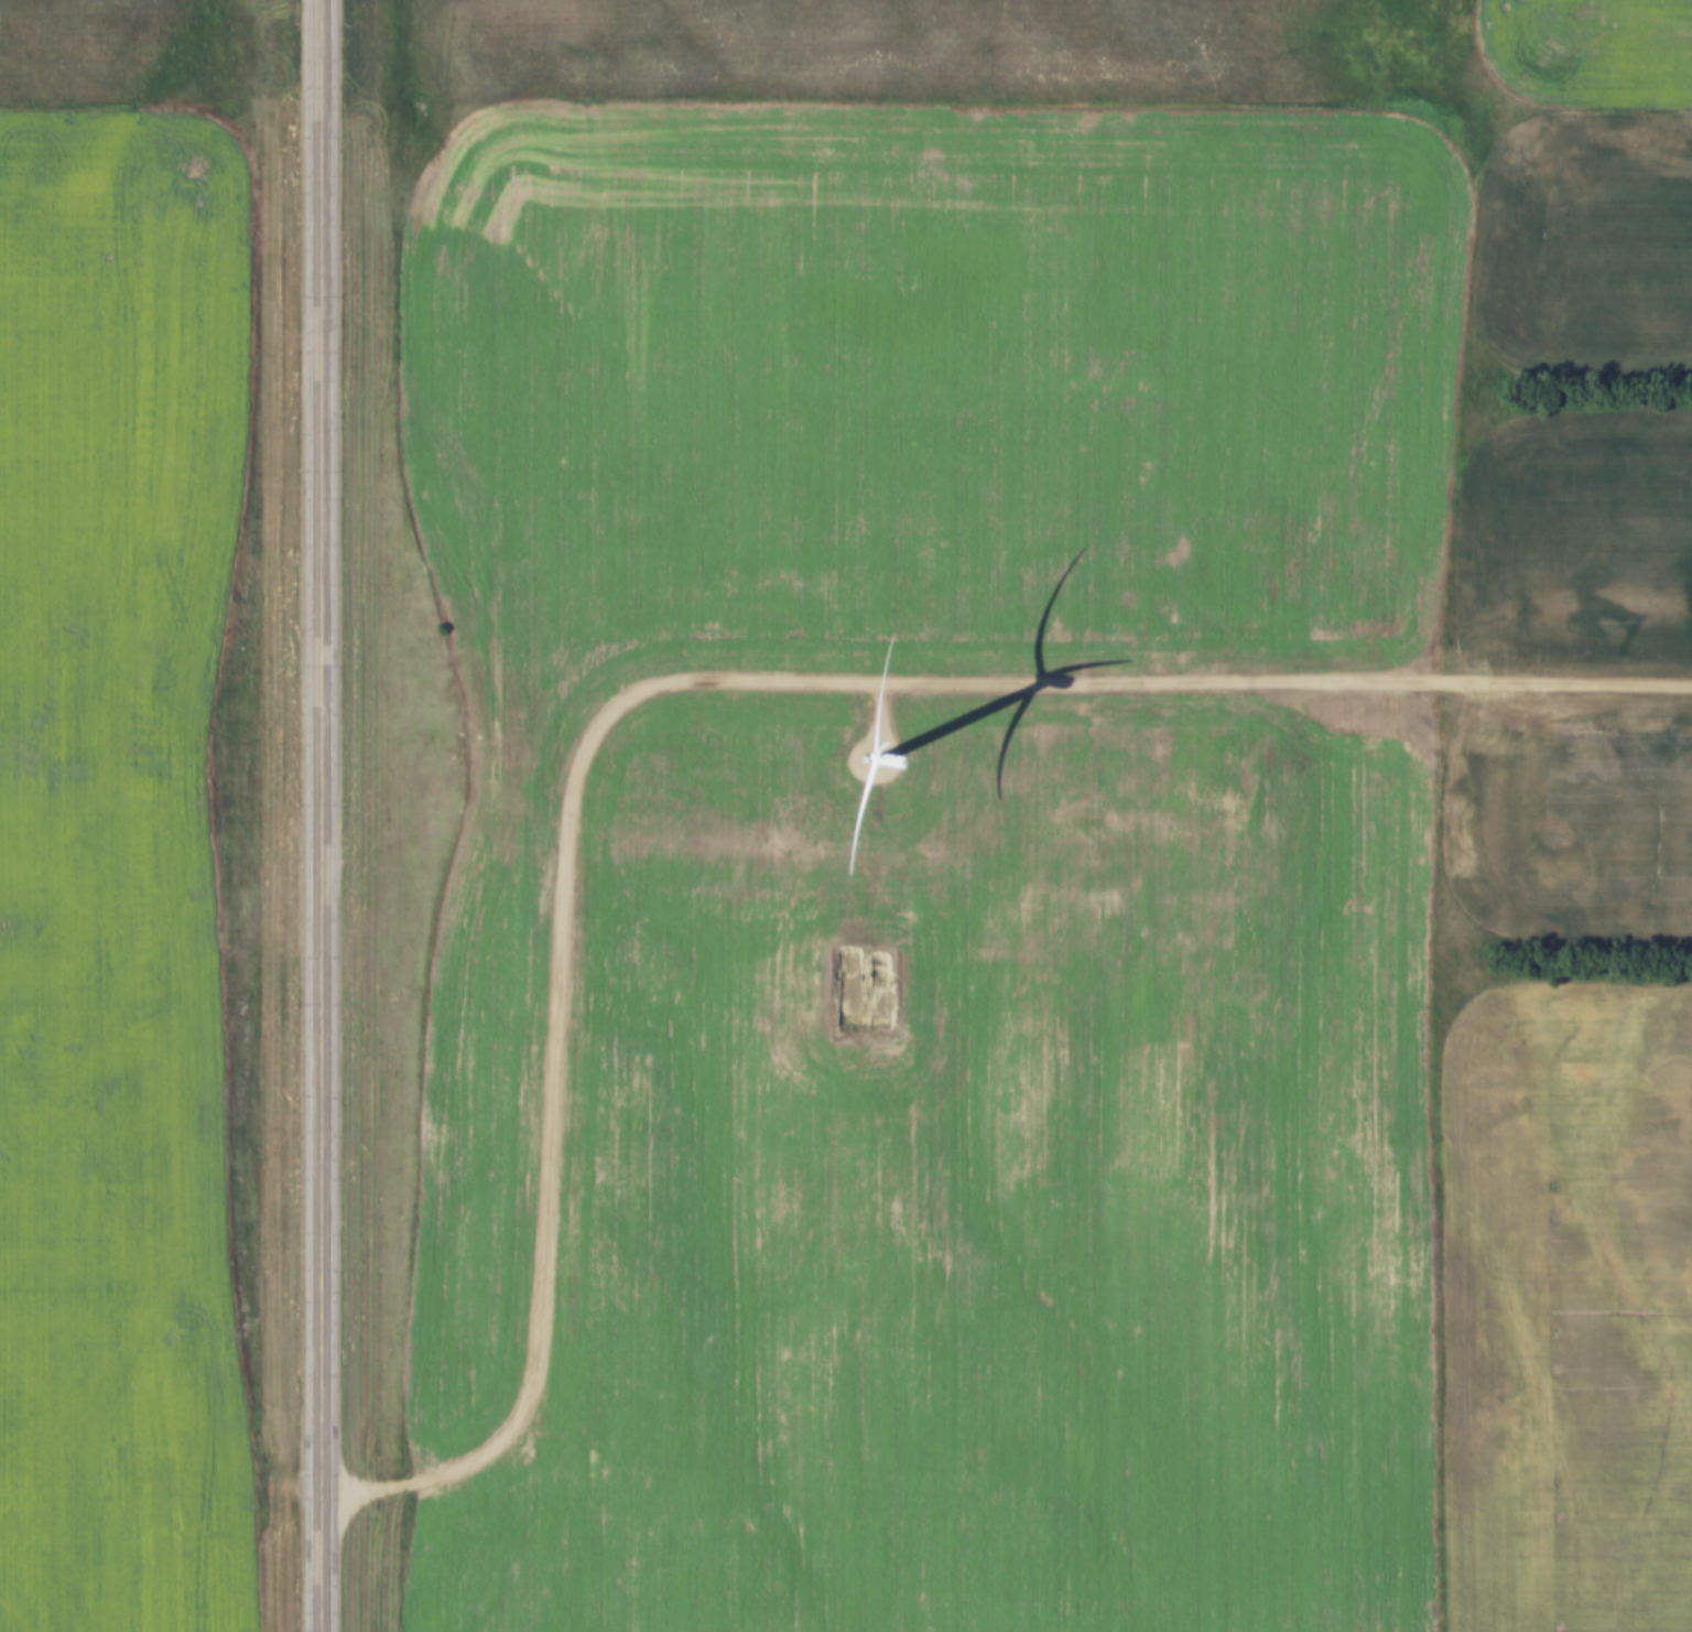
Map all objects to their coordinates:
road: (676, 680)
wind turbine: (880, 761)
road: (322, 815)

